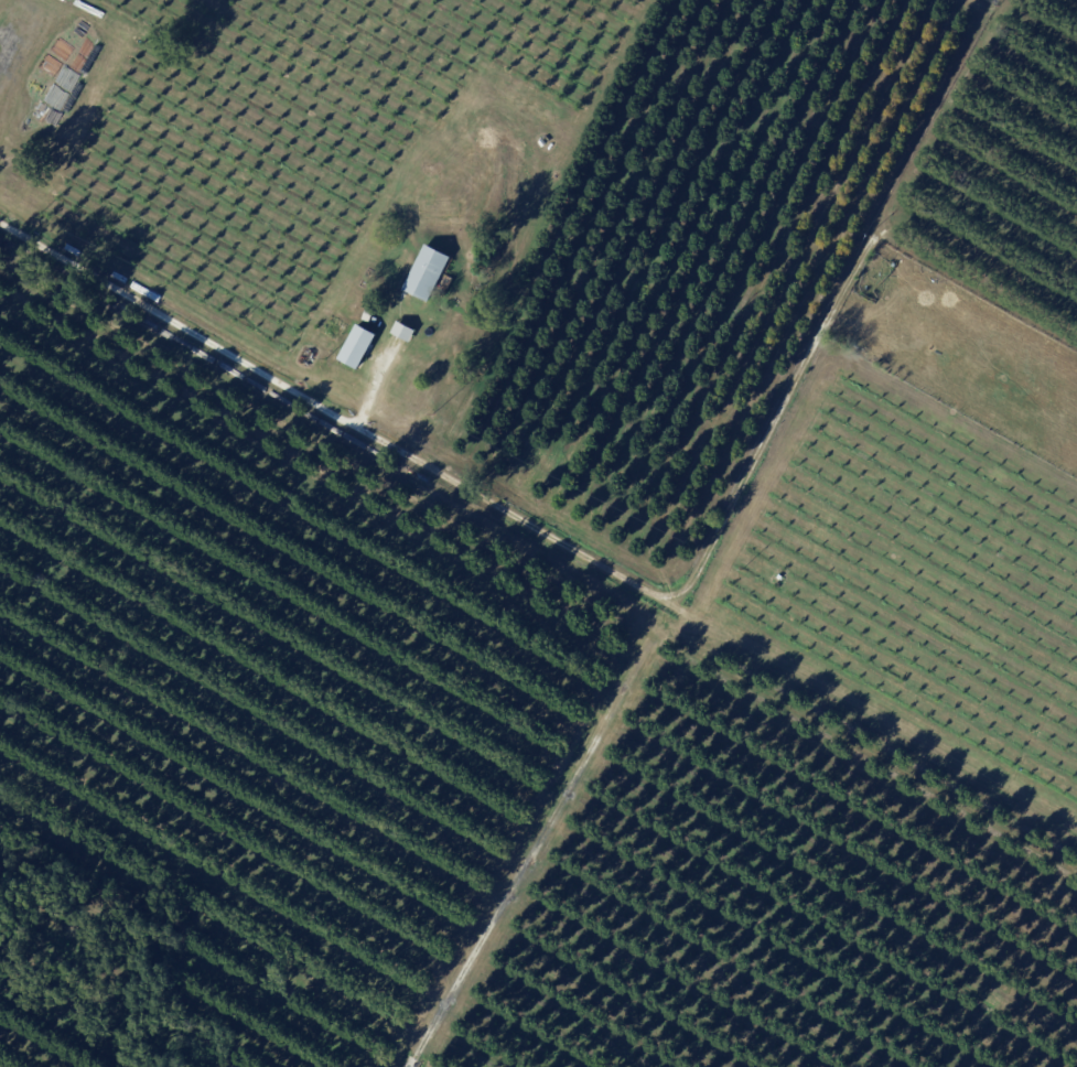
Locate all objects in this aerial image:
building: (540, 143)
crop: (227, 147)
building: (945, 235)
building: (424, 273)
road: (978, 287)
building: (368, 315)
building: (401, 332)
building: (356, 346)
road: (224, 355)
road: (748, 471)
crop: (917, 568)
building: (776, 589)
road: (542, 830)

